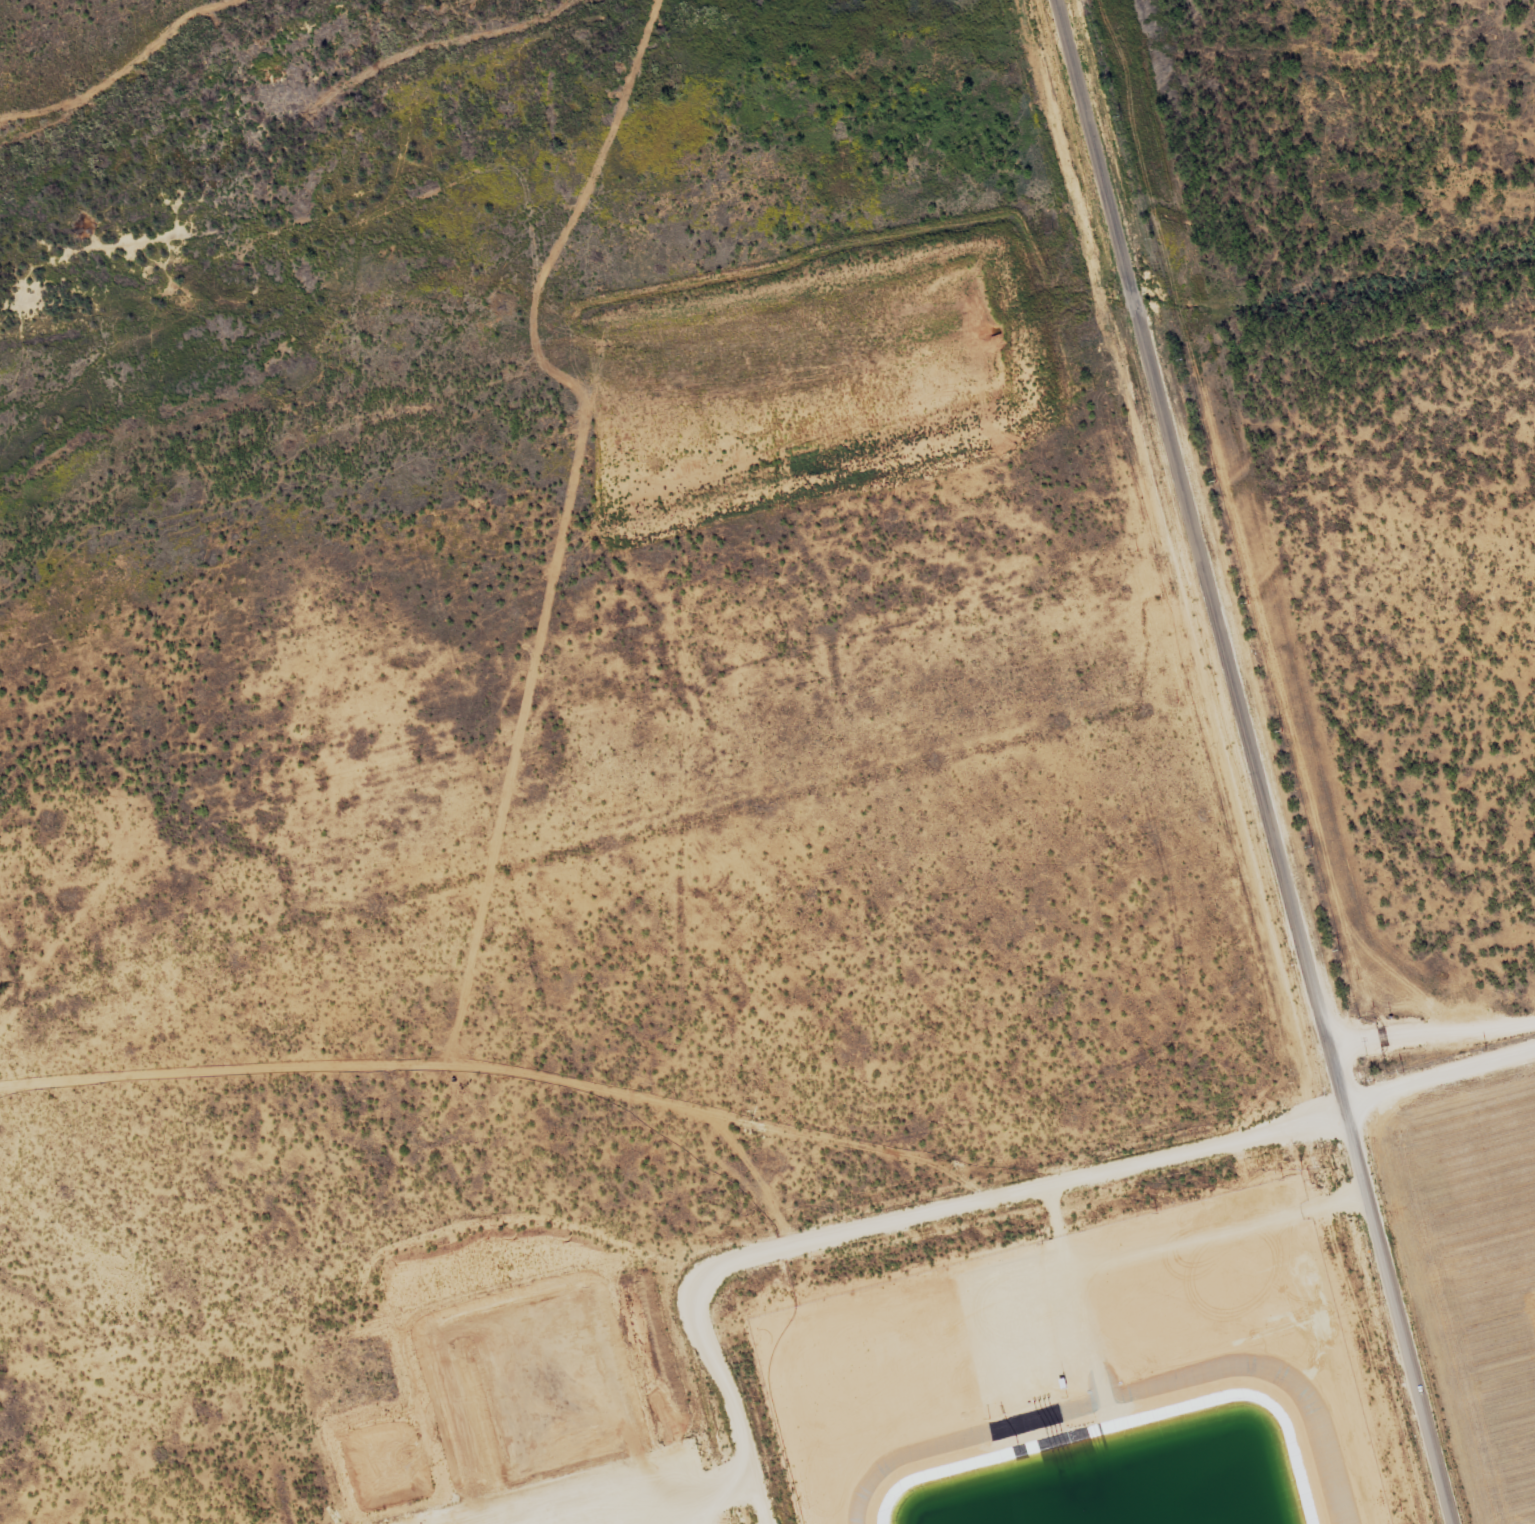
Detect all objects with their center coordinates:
road: (1253, 760)
road: (1431, 1032)
road: (1437, 1069)

